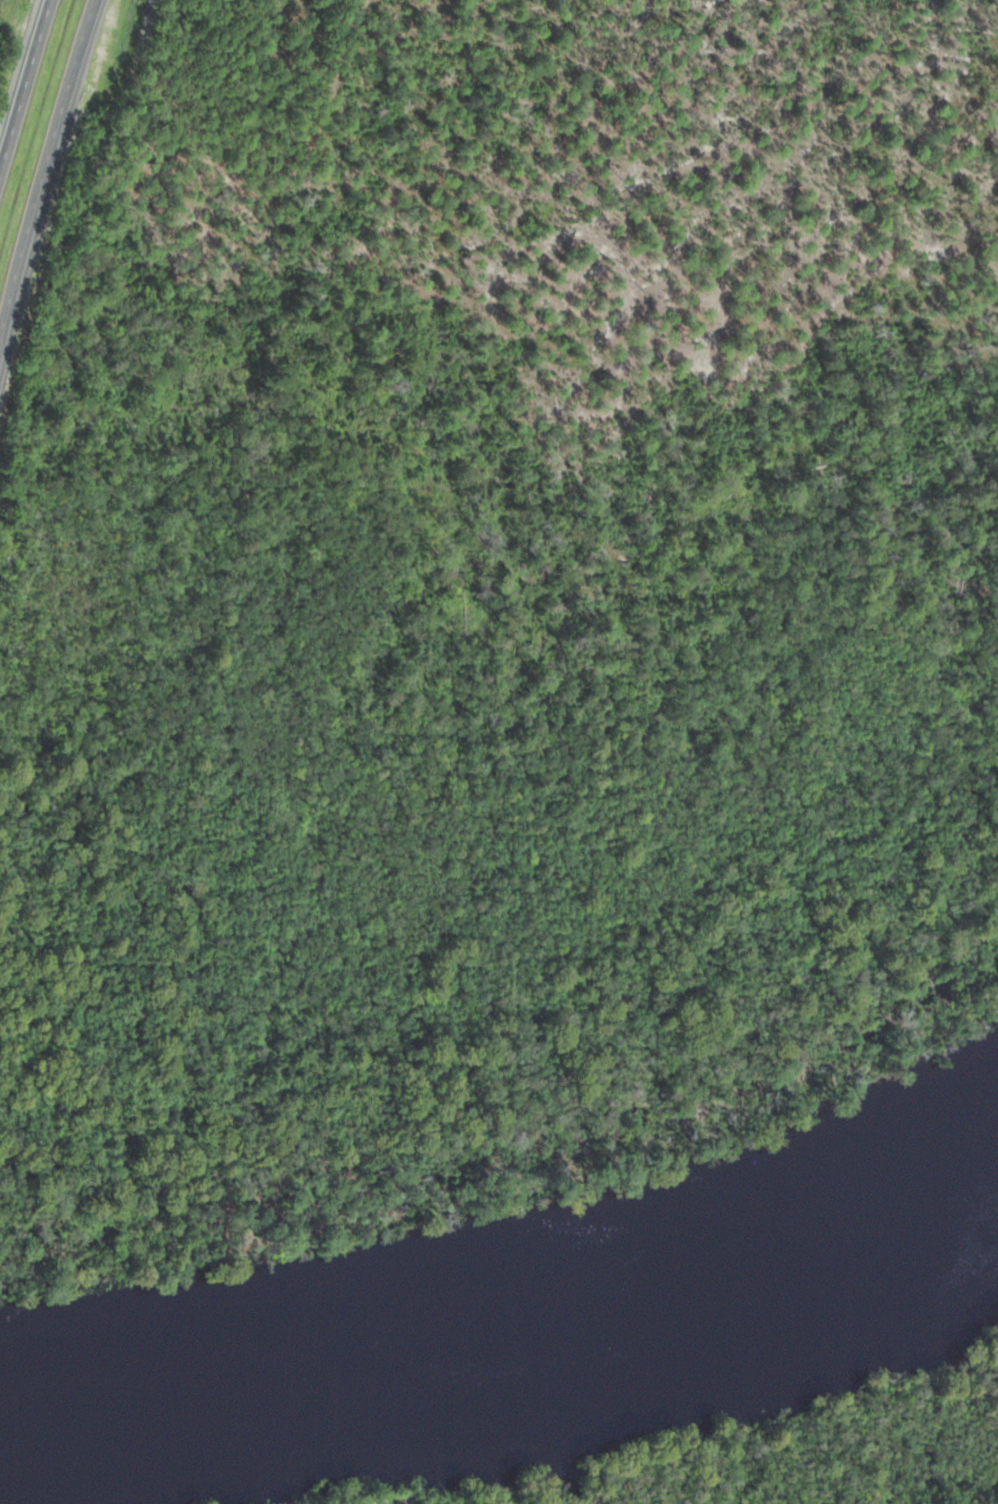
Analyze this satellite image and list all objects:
road: (22, 81)
road: (44, 167)
river: (568, 1327)
river: (57, 1417)

